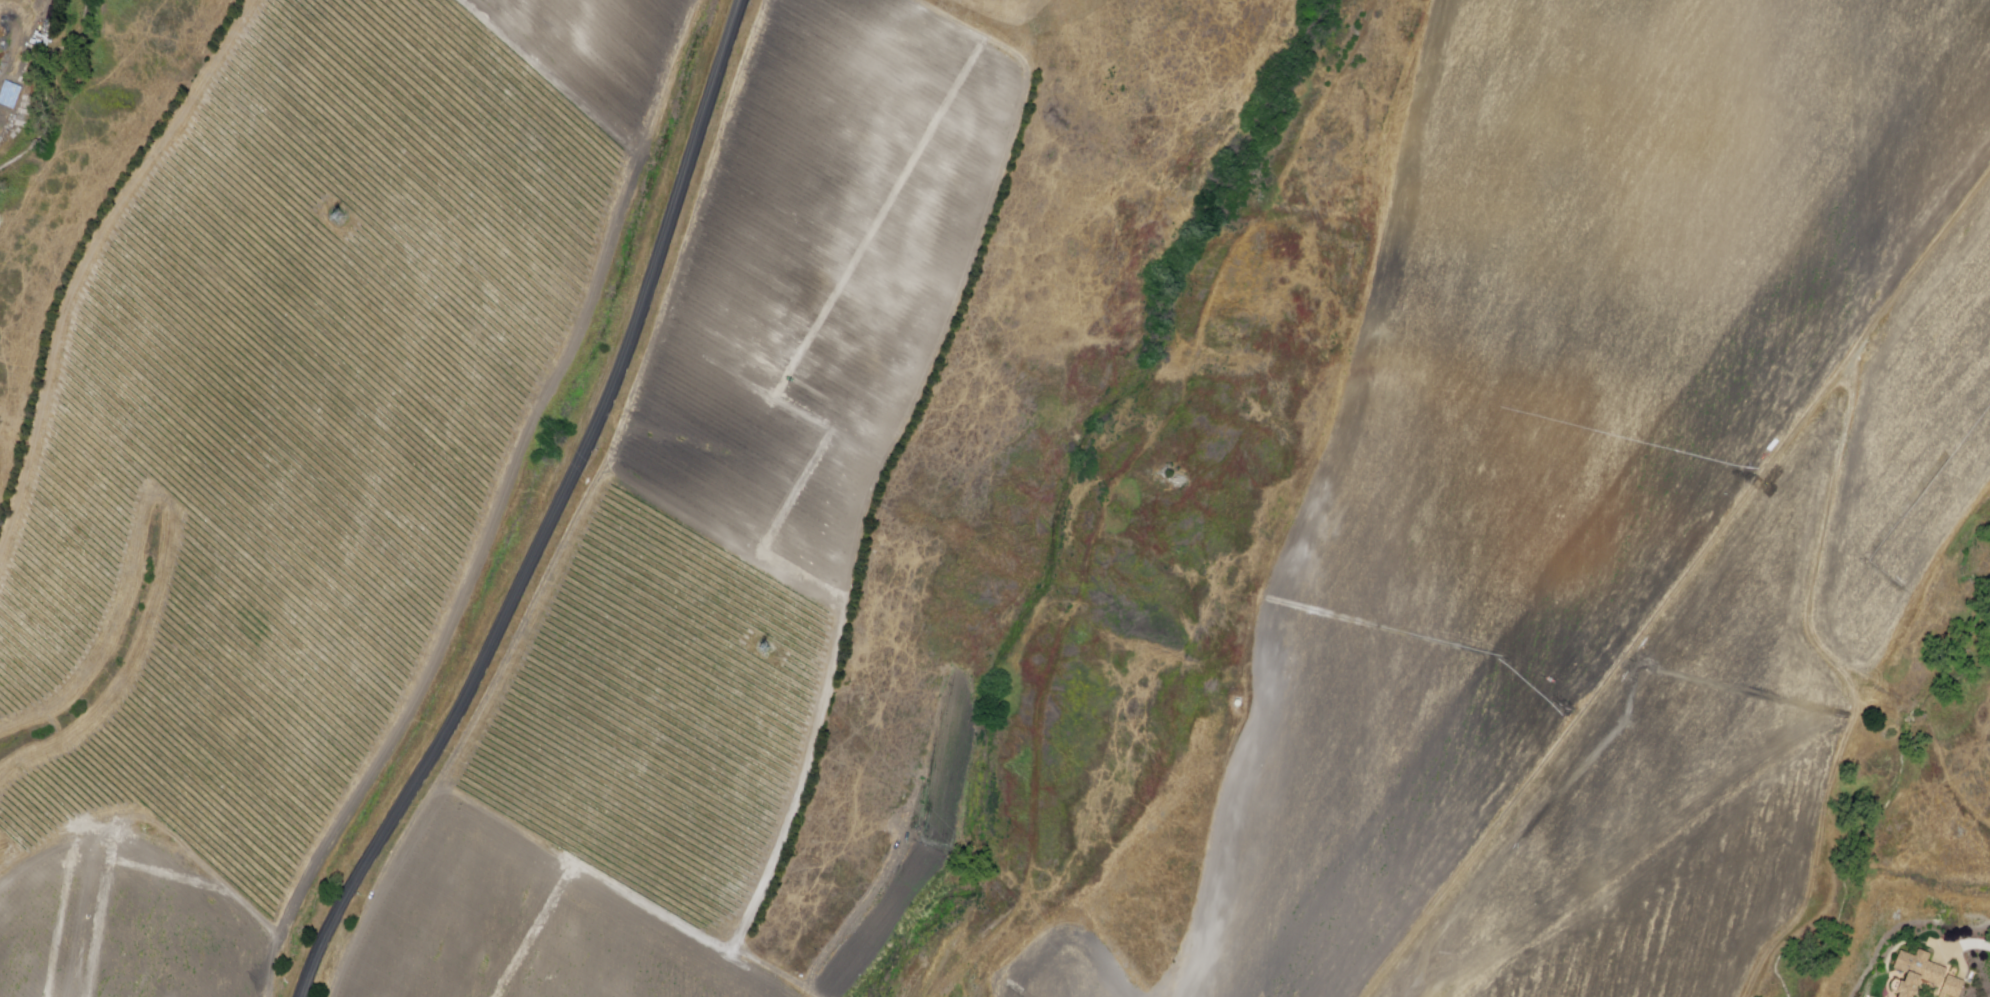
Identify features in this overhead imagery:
power tower: (337, 219)
road: (557, 516)
road: (1680, 586)
power tower: (768, 652)
road: (1966, 945)
building: (1927, 976)

